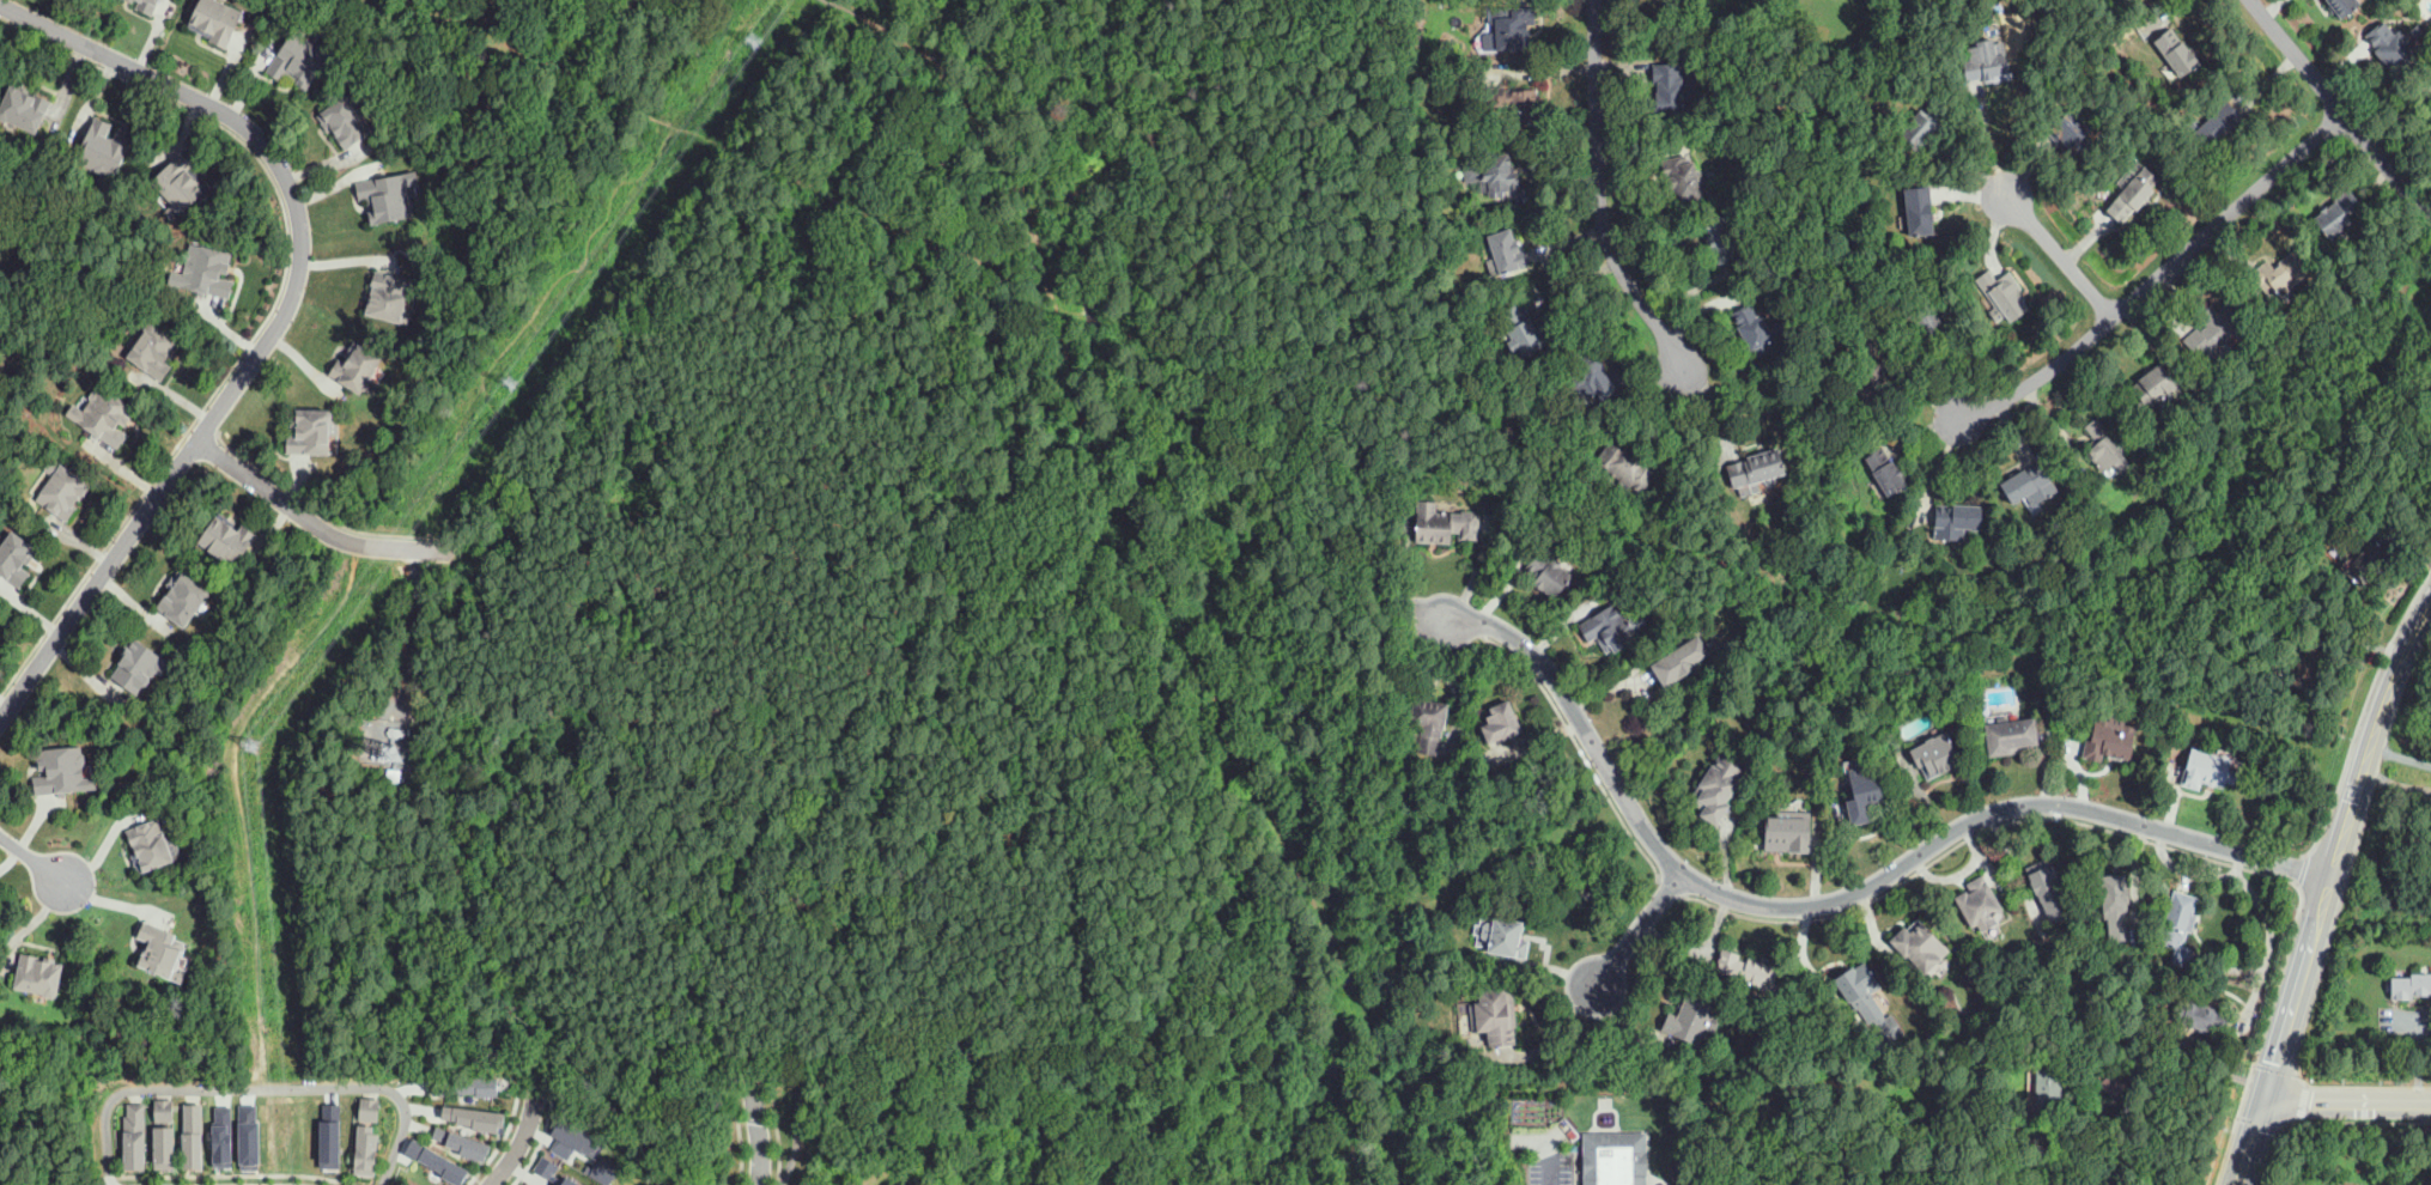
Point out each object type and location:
building: (139, 5)
building: (152, 6)
building: (2345, 7)
building: (215, 25)
building: (1514, 30)
building: (2417, 31)
power tower: (755, 42)
building: (2390, 48)
building: (2175, 53)
building: (297, 61)
building: (1981, 61)
building: (1673, 89)
building: (1513, 102)
building: (24, 109)
road: (2341, 109)
building: (342, 121)
building: (1925, 124)
building: (2217, 124)
building: (2071, 133)
road: (1989, 140)
building: (105, 144)
building: (1494, 175)
building: (1682, 181)
building: (176, 187)
building: (2129, 195)
road: (1602, 196)
building: (391, 199)
road: (877, 207)
building: (1919, 211)
building: (2336, 214)
building: (1720, 237)
building: (1505, 254)
road: (2060, 255)
building: (205, 268)
road: (2158, 274)
building: (2277, 274)
building: (2002, 293)
building: (388, 294)
road: (269, 317)
road: (280, 318)
building: (1926, 318)
building: (1756, 329)
building: (1520, 332)
building: (2217, 333)
building: (153, 354)
building: (357, 369)
building: (1593, 378)
road: (1910, 379)
power tower: (508, 385)
building: (2152, 387)
building: (1865, 388)
building: (102, 420)
building: (308, 433)
building: (2429, 438)
building: (2102, 446)
building: (1624, 468)
road: (1937, 468)
building: (1885, 470)
building: (1756, 472)
building: (2029, 485)
building: (63, 494)
road: (318, 512)
building: (1956, 522)
road: (317, 525)
building: (1445, 525)
road: (1139, 534)
building: (230, 542)
road: (813, 545)
building: (13, 560)
building: (2363, 564)
building: (1550, 576)
building: (181, 597)
building: (2303, 607)
building: (1768, 612)
building: (1609, 628)
building: (1681, 661)
building: (2305, 669)
road: (2396, 674)
building: (132, 677)
road: (1132, 681)
road: (1297, 719)
road: (1580, 722)
building: (1501, 723)
building: (1428, 724)
building: (395, 733)
building: (2010, 736)
building: (2108, 740)
power tower: (250, 745)
road: (1579, 747)
building: (376, 755)
building: (391, 755)
building: (1935, 755)
road: (2401, 755)
building: (2207, 770)
building: (67, 771)
road: (2336, 789)
building: (1716, 790)
building: (1862, 790)
road: (1994, 812)
road: (2351, 812)
building: (1788, 832)
road: (1967, 841)
building: (150, 845)
road: (32, 861)
building: (1491, 881)
building: (2048, 892)
road: (2324, 899)
building: (1976, 905)
building: (2114, 906)
building: (2178, 928)
road: (1637, 930)
building: (1505, 938)
building: (1920, 946)
building: (163, 948)
building: (1749, 971)
building: (43, 978)
building: (2409, 986)
building: (1860, 991)
road: (2291, 1010)
building: (1496, 1015)
building: (2199, 1015)
building: (1691, 1021)
building: (1754, 1050)
road: (2421, 1050)
road: (2278, 1071)
building: (2111, 1084)
road: (253, 1086)
building: (468, 1087)
road: (2359, 1087)
building: (2048, 1089)
road: (2244, 1098)
road: (2304, 1102)
building: (166, 1105)
traffic signals: (2263, 1105)
road: (2347, 1105)
building: (370, 1106)
road: (2180, 1108)
road: (1184, 1110)
building: (481, 1118)
road: (759, 1122)
road: (2352, 1122)
road: (2259, 1123)
building: (244, 1130)
building: (328, 1130)
road: (777, 1130)
building: (195, 1131)
building: (219, 1131)
road: (759, 1131)
building: (136, 1132)
road: (742, 1137)
road: (797, 1140)
building: (166, 1142)
building: (466, 1143)
road: (519, 1144)
road: (2249, 1144)
road: (1546, 1147)
building: (367, 1148)
road: (1288, 1150)
building: (588, 1151)
building: (1712, 1153)
parking lot: (1546, 1156)
building: (1615, 1157)
building: (444, 1165)
road: (226, 1168)
road: (1284, 1171)
building: (555, 1172)
road: (345, 1184)
building: (2341, 1184)

